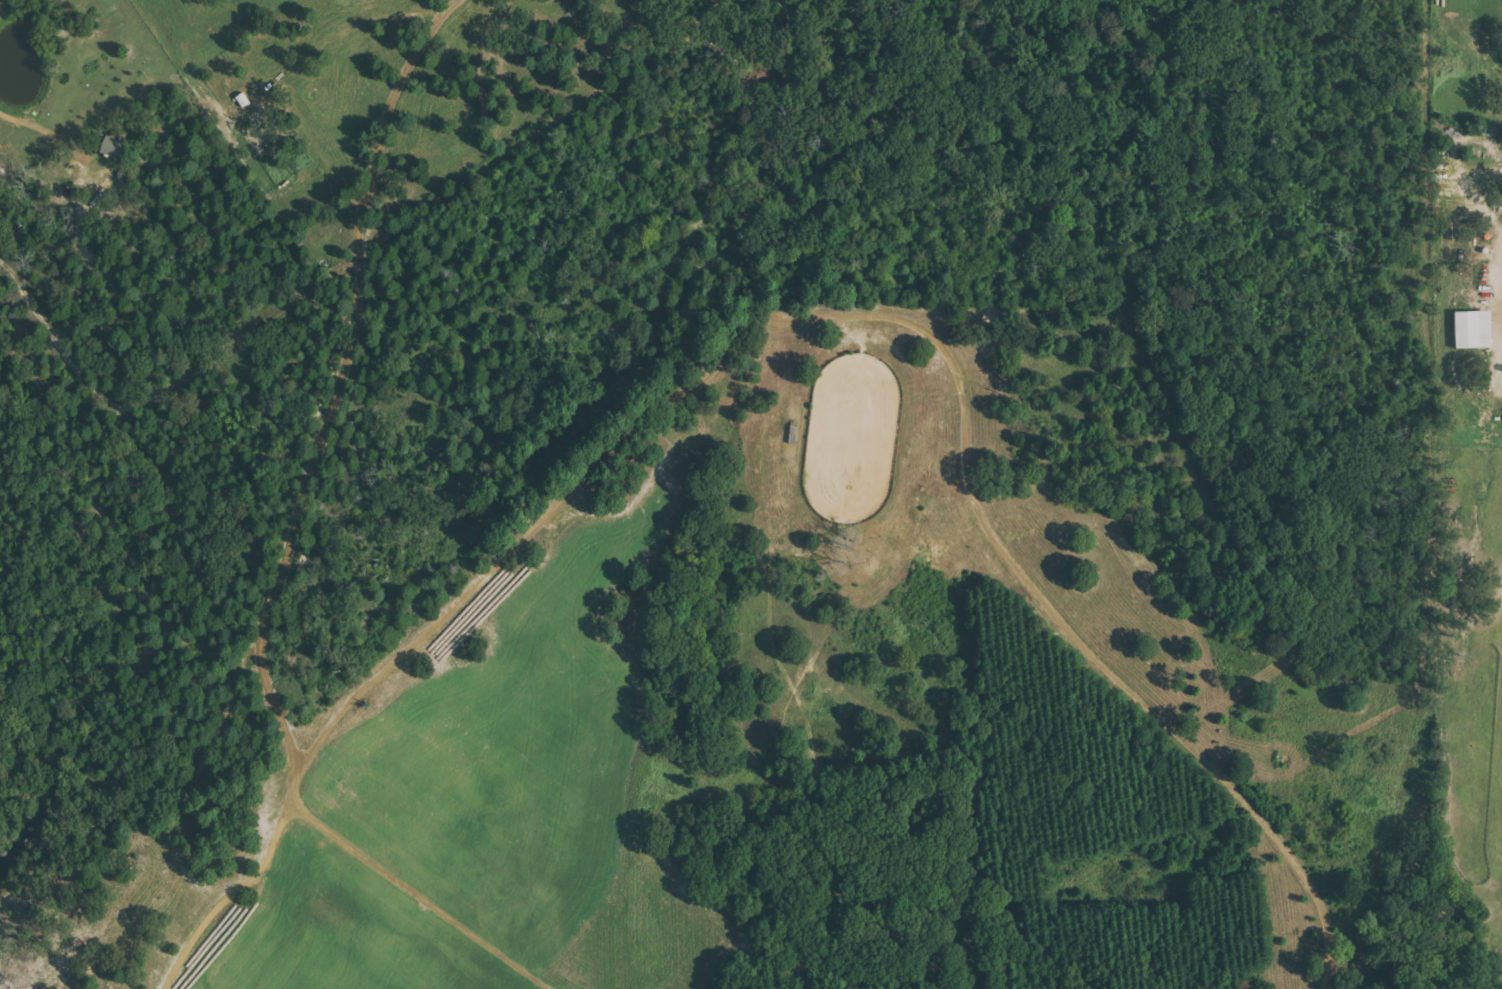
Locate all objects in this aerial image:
building: (112, 146)
building: (1475, 329)

